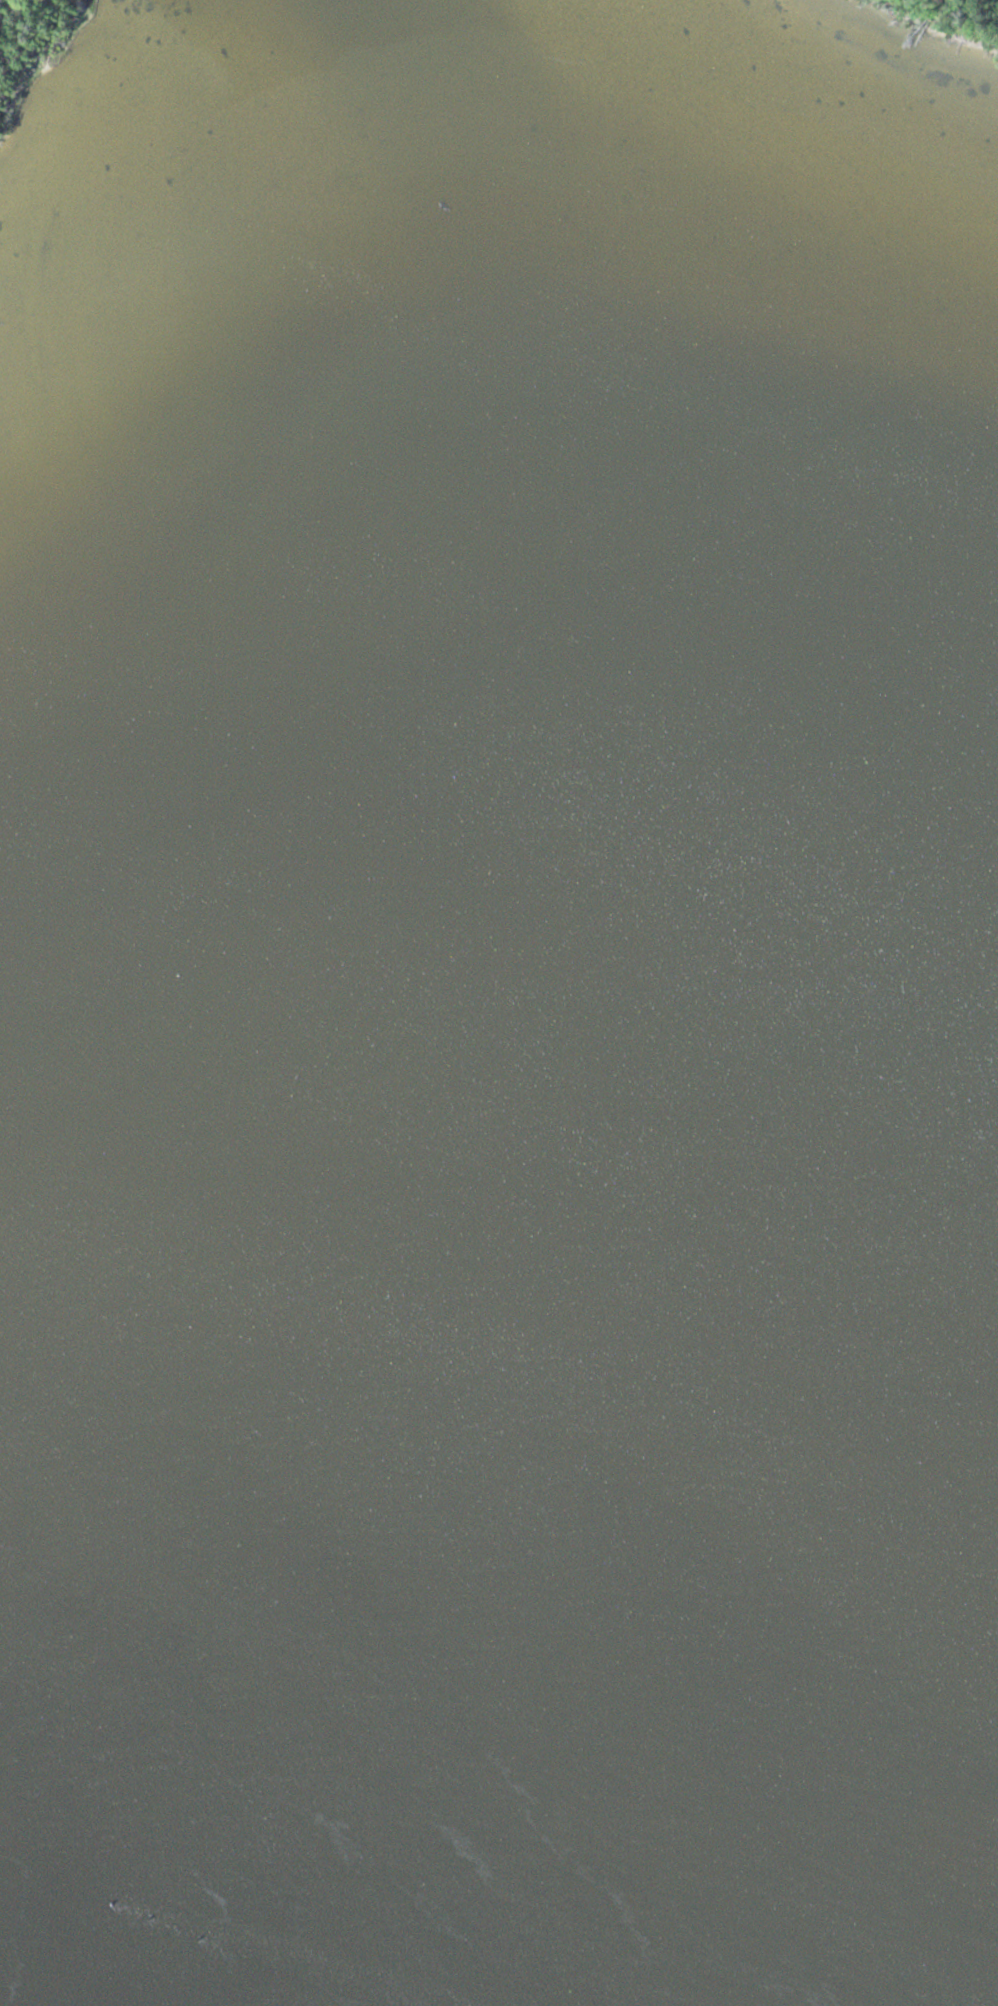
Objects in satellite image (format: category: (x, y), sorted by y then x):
river: (541, 1610)

